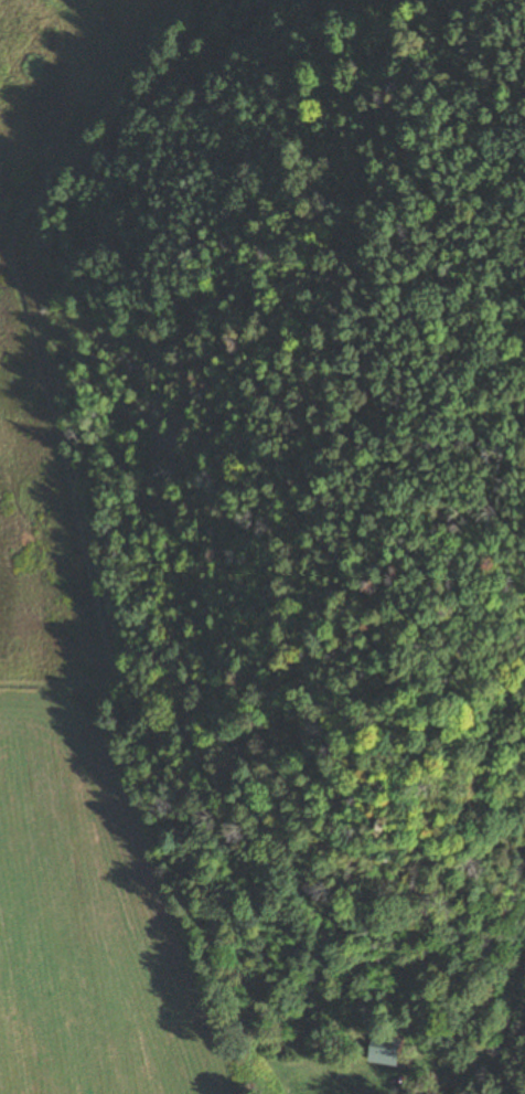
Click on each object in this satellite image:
building: (388, 1052)

